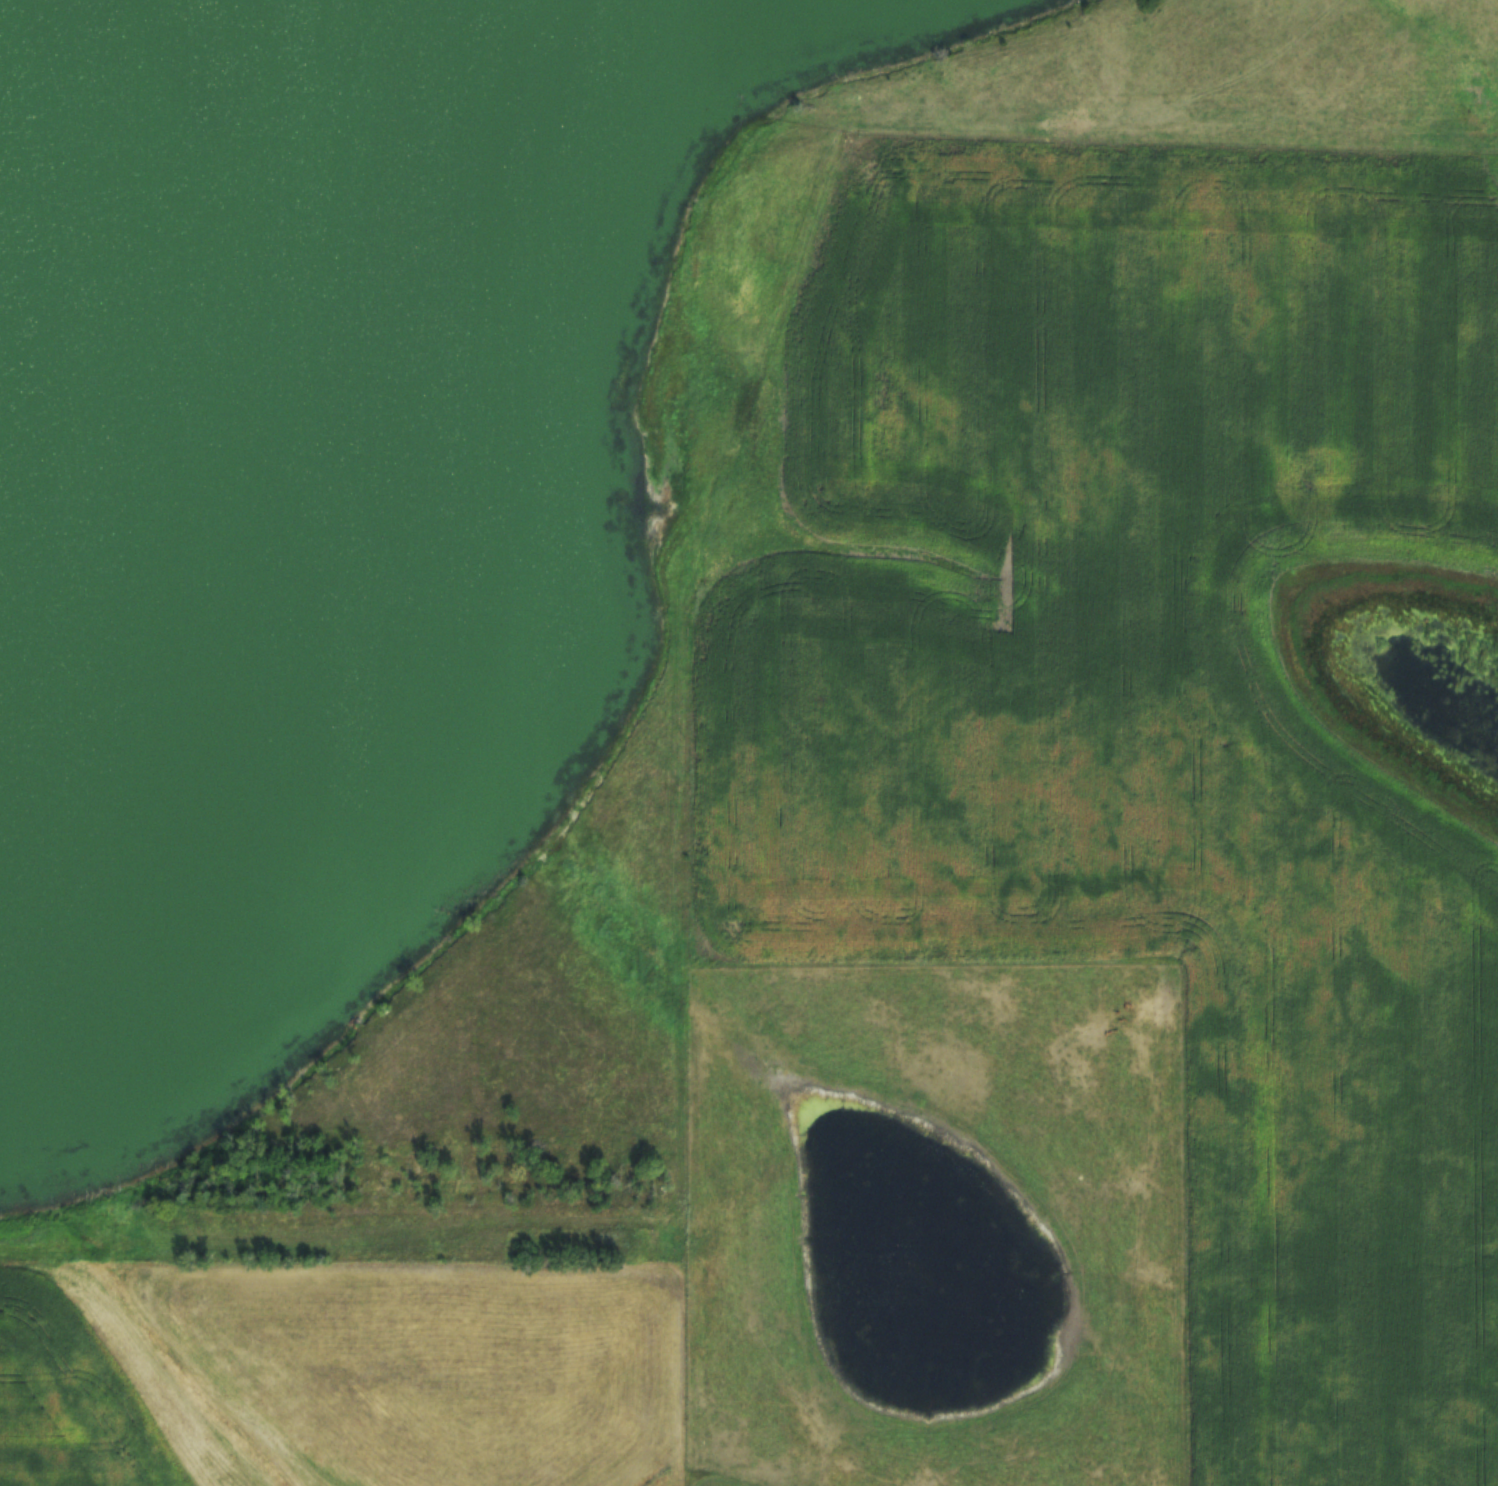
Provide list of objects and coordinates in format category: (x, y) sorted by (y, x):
crop: (440, 1372)
crop: (83, 1399)

